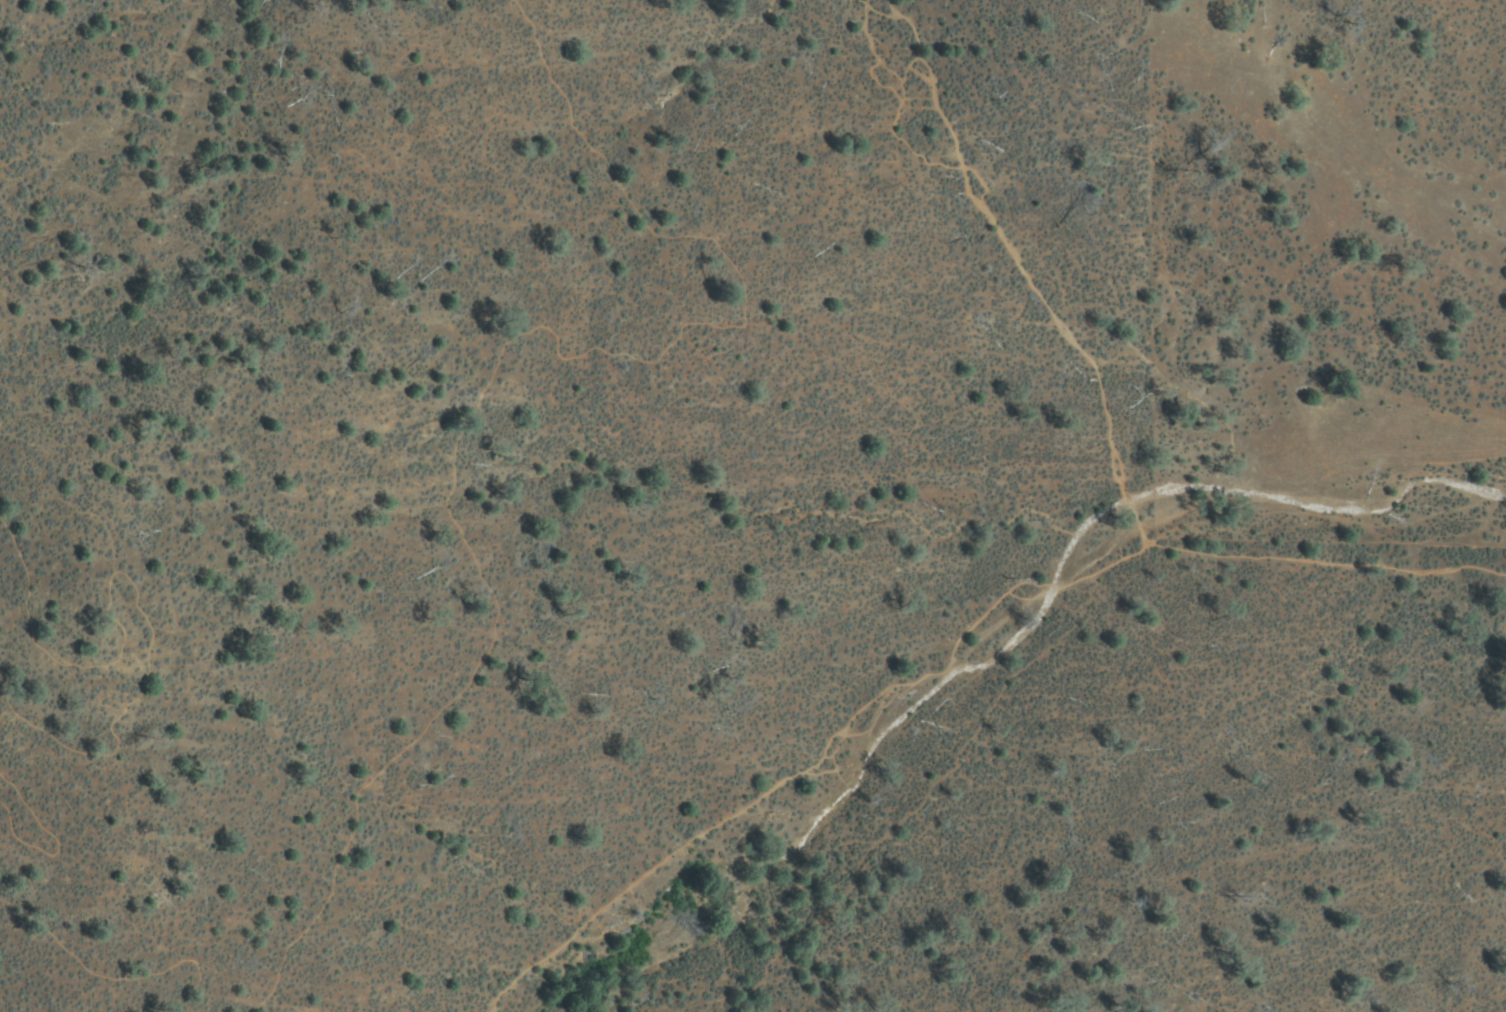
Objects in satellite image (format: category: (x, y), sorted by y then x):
road: (1022, 266)
road: (484, 380)
road: (1323, 563)
road: (112, 565)
road: (811, 758)
road: (50, 841)
road: (139, 959)

